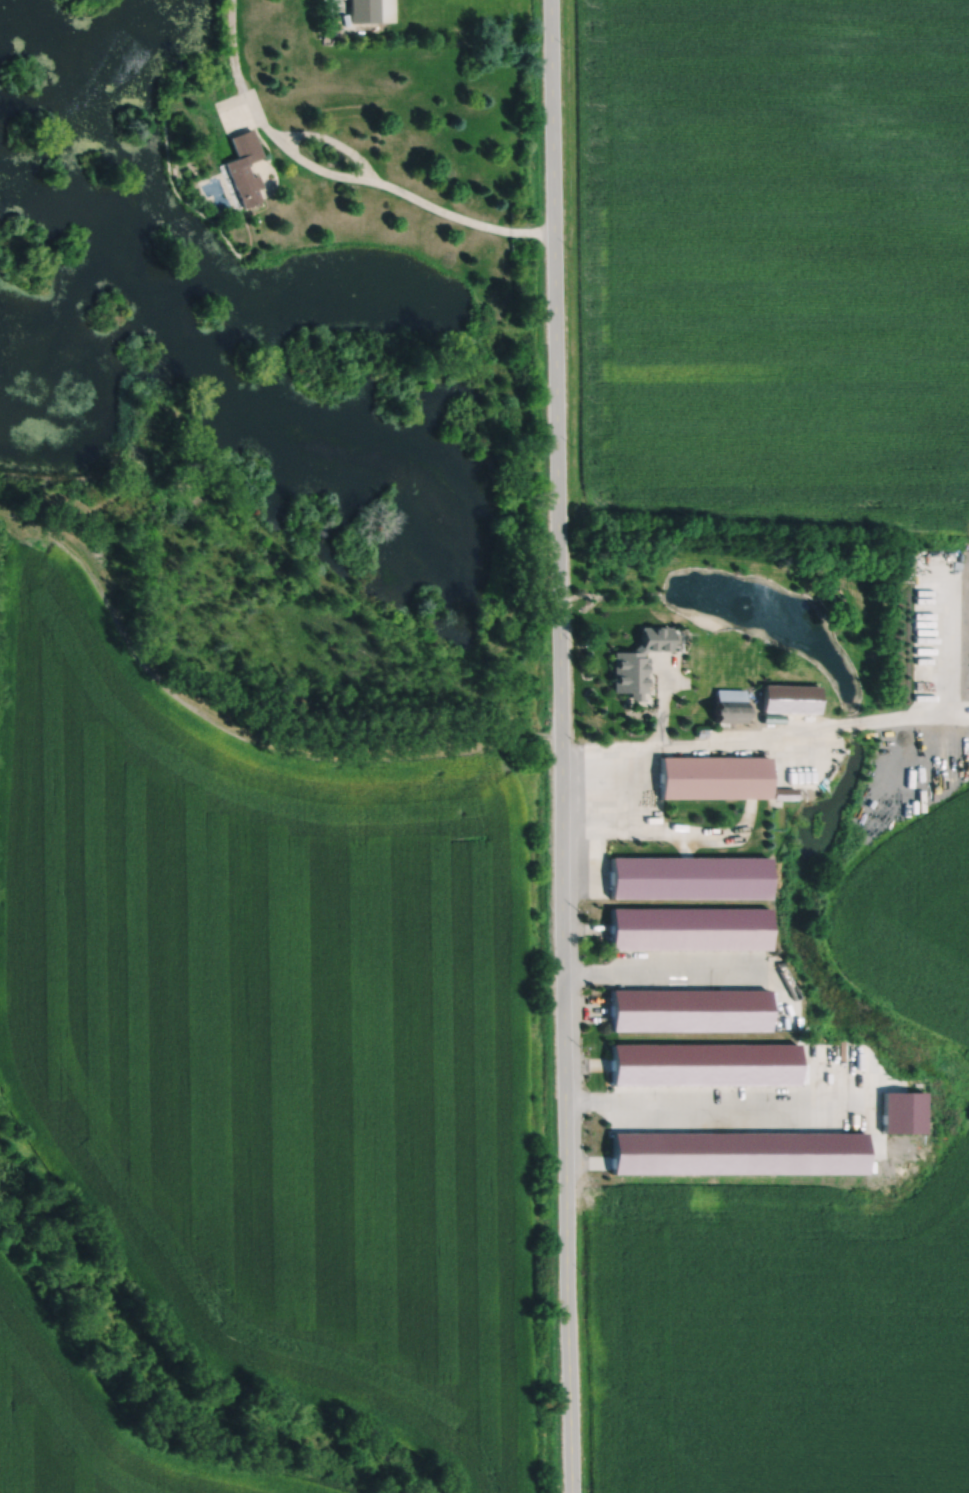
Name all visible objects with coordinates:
road: (334, 11)
building: (362, 11)
road: (232, 45)
road: (331, 140)
building: (243, 165)
road: (384, 183)
crop: (777, 260)
road: (291, 556)
building: (636, 662)
building: (787, 699)
road: (662, 702)
building: (726, 707)
road: (820, 730)
building: (700, 733)
road: (558, 746)
building: (521, 757)
building: (710, 778)
building: (782, 794)
road: (683, 831)
building: (687, 876)
crop: (912, 895)
building: (687, 927)
road: (669, 973)
building: (687, 1009)
crop: (273, 1033)
building: (701, 1064)
road: (718, 1105)
building: (902, 1112)
building: (736, 1153)
crop: (787, 1351)
crop: (92, 1422)

